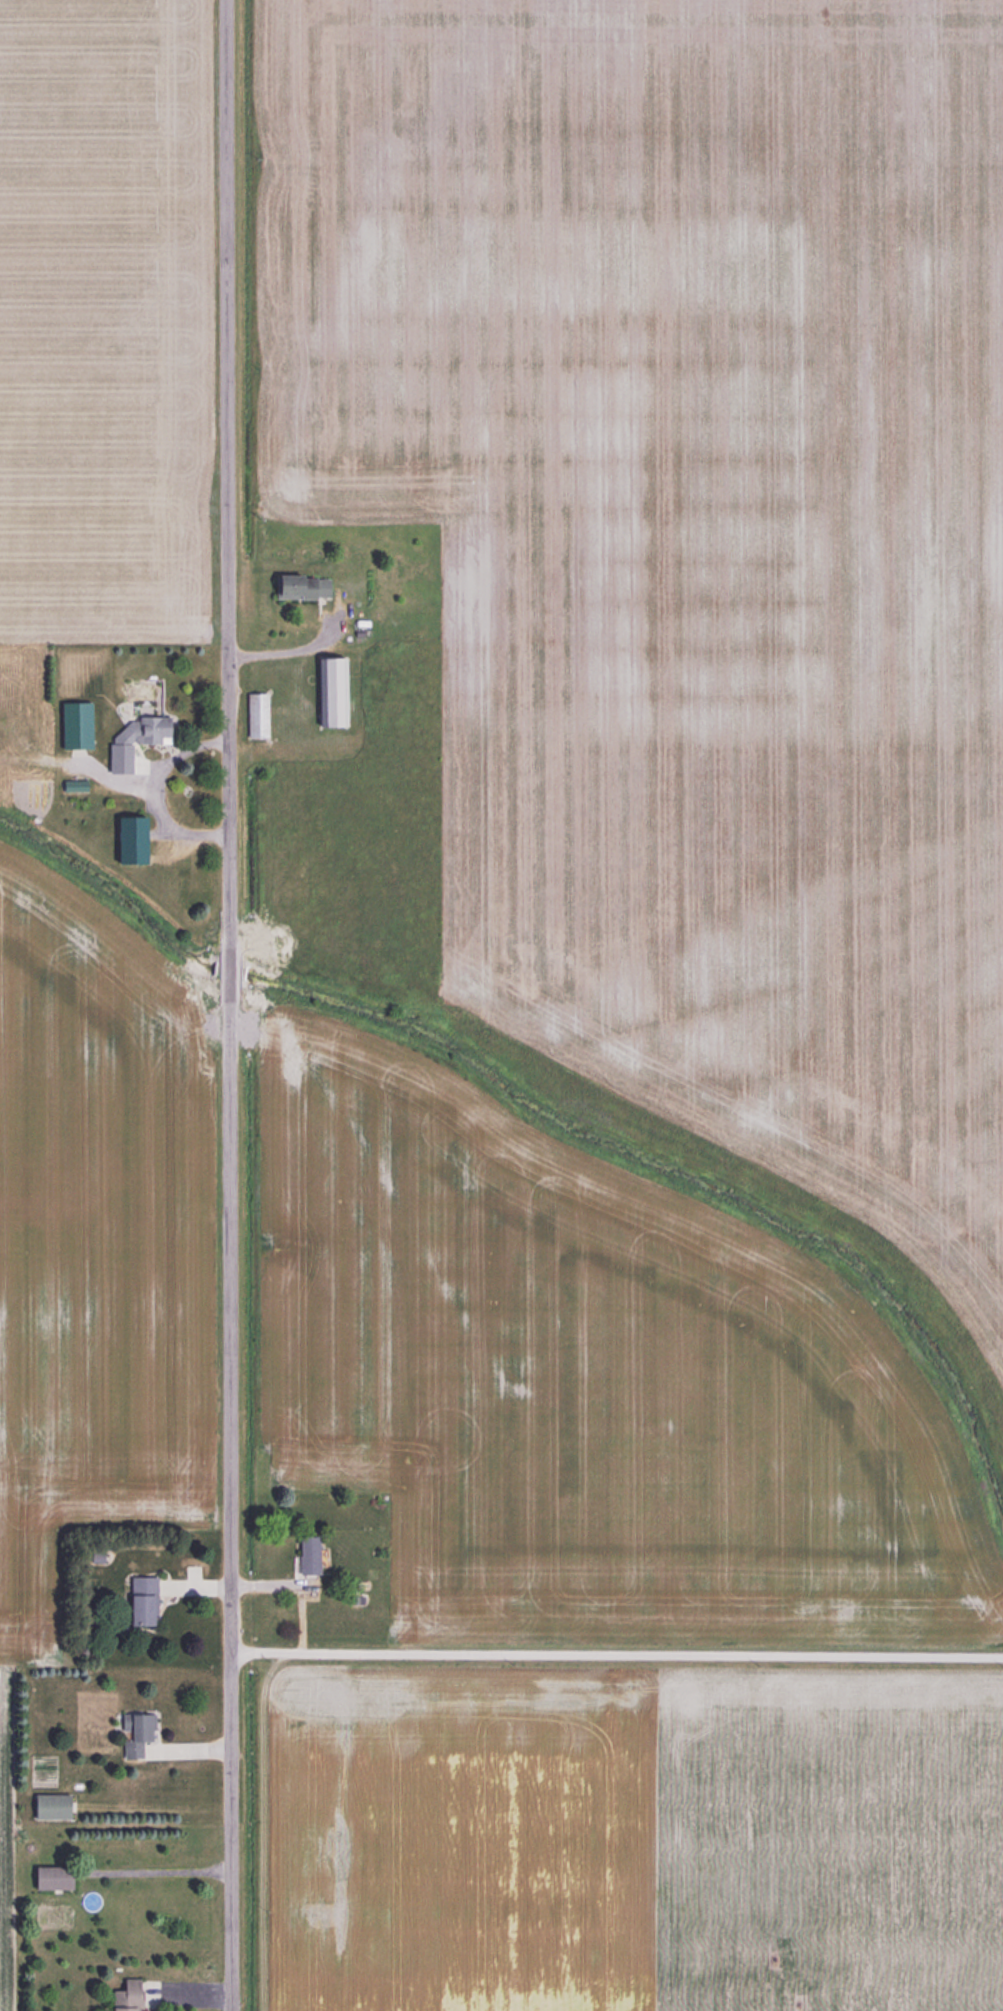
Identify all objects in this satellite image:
building: (299, 586)
building: (330, 690)
building: (256, 714)
building: (75, 724)
building: (143, 729)
building: (128, 765)
building: (129, 839)
road: (230, 1005)
building: (306, 1554)
building: (140, 1600)
road: (617, 1655)
building: (135, 1734)
building: (50, 1807)
building: (49, 1878)
building: (125, 1996)

